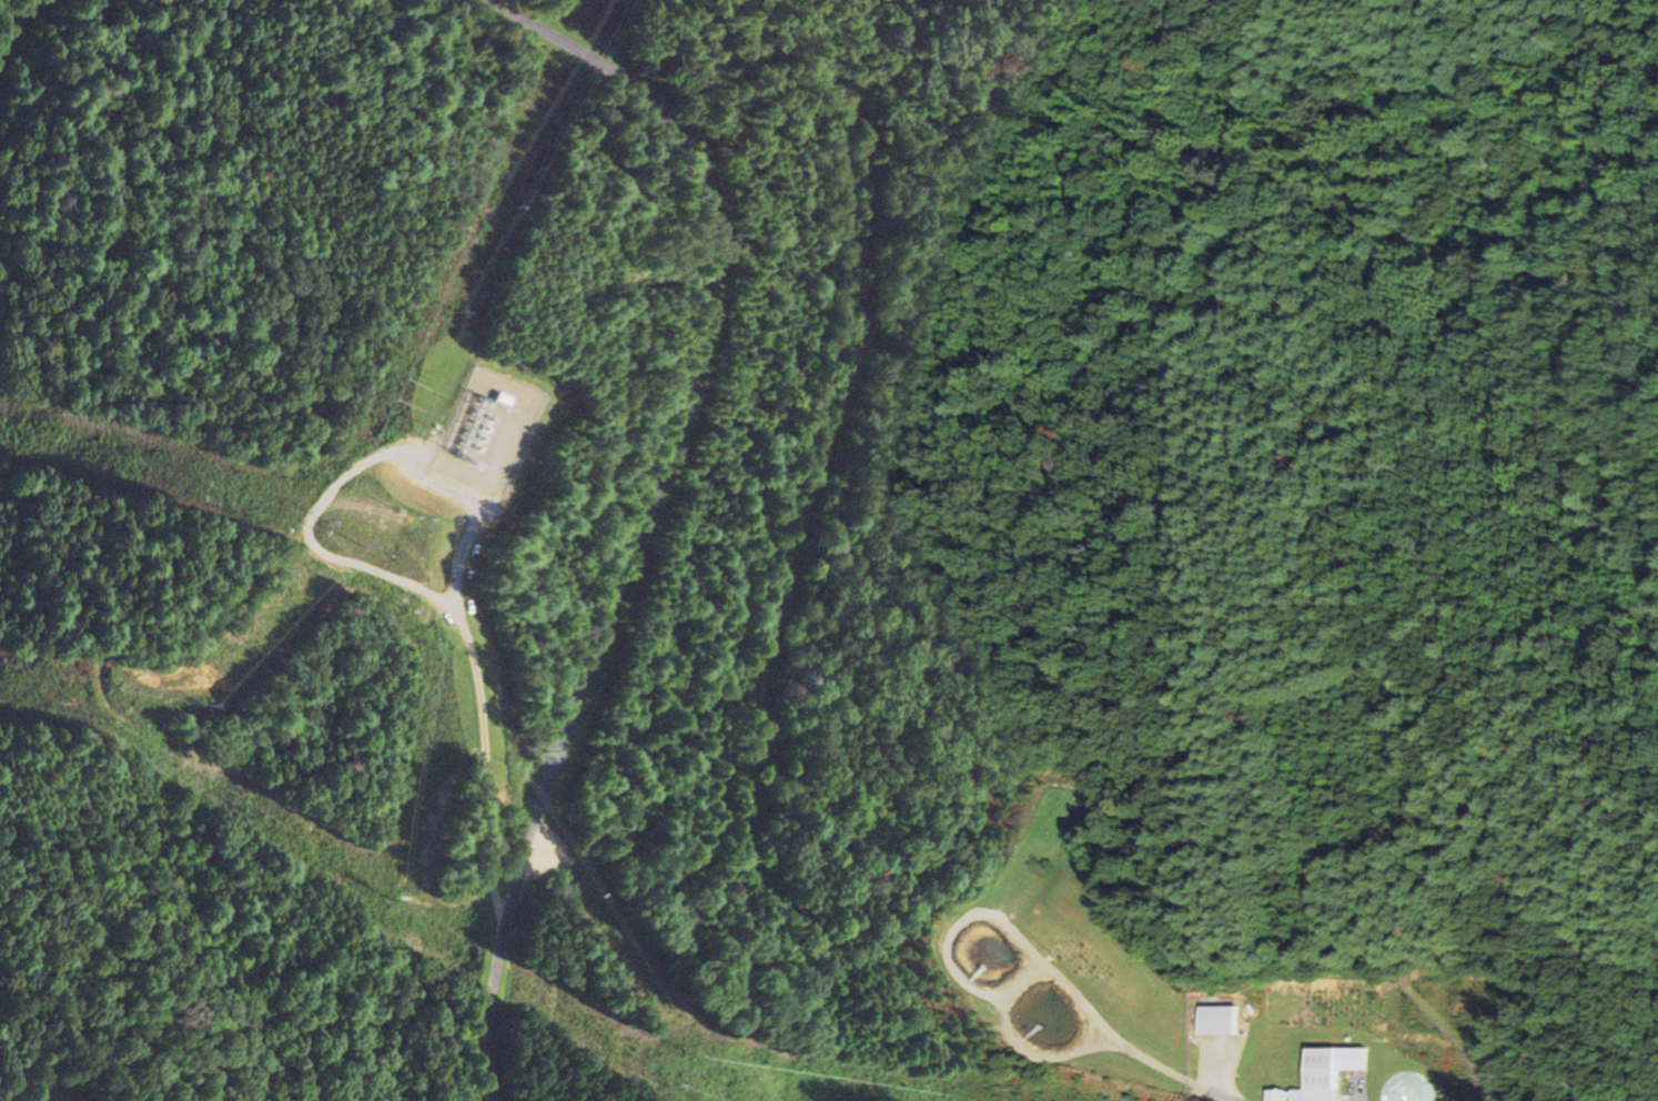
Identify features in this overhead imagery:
road: (11, 17)
power substation: (487, 432)
road: (651, 515)
road: (772, 518)
power tower: (105, 714)
power tower: (391, 902)
building: (1214, 1020)
building: (1312, 1079)
power tower: (671, 1083)

